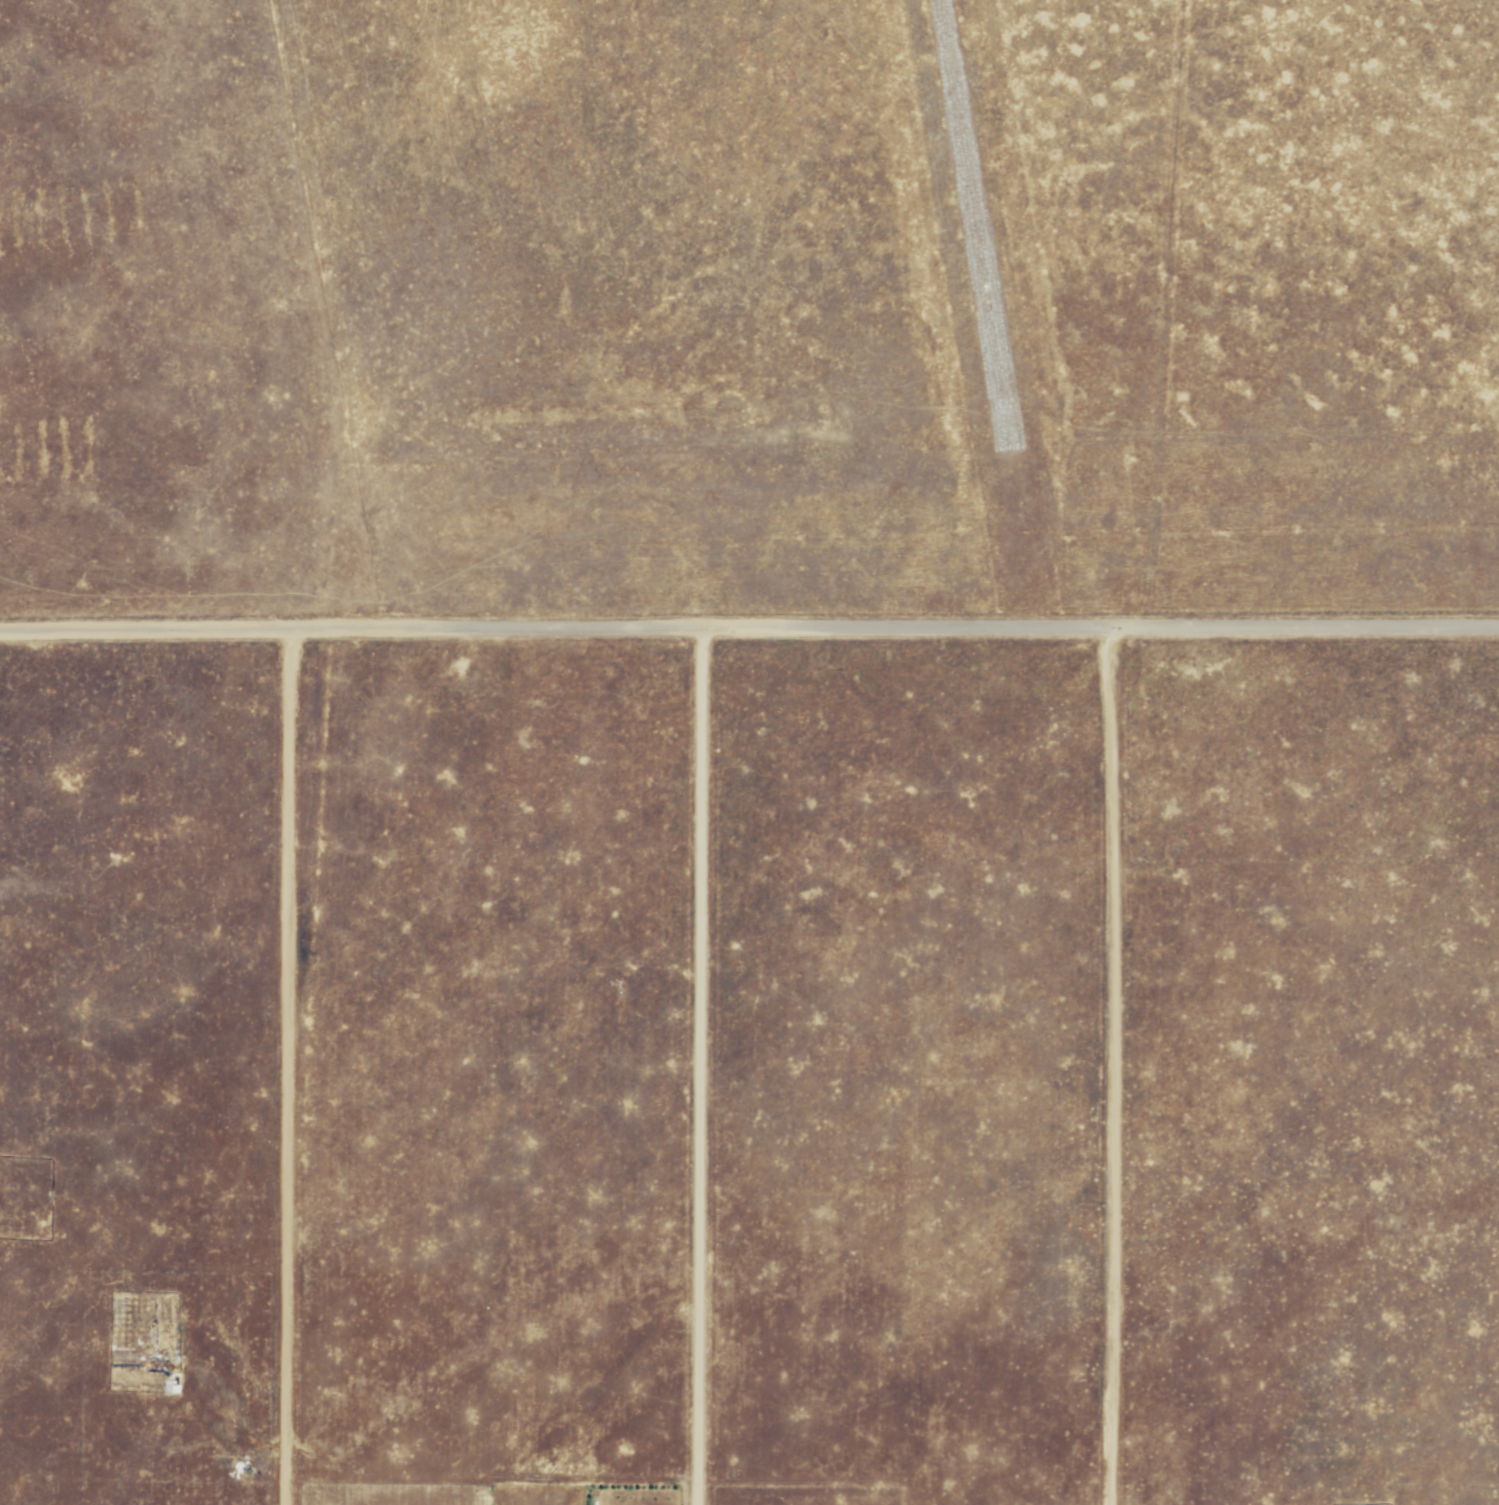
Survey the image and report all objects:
road: (749, 629)
road: (282, 1067)
road: (694, 1067)
road: (1106, 1067)

